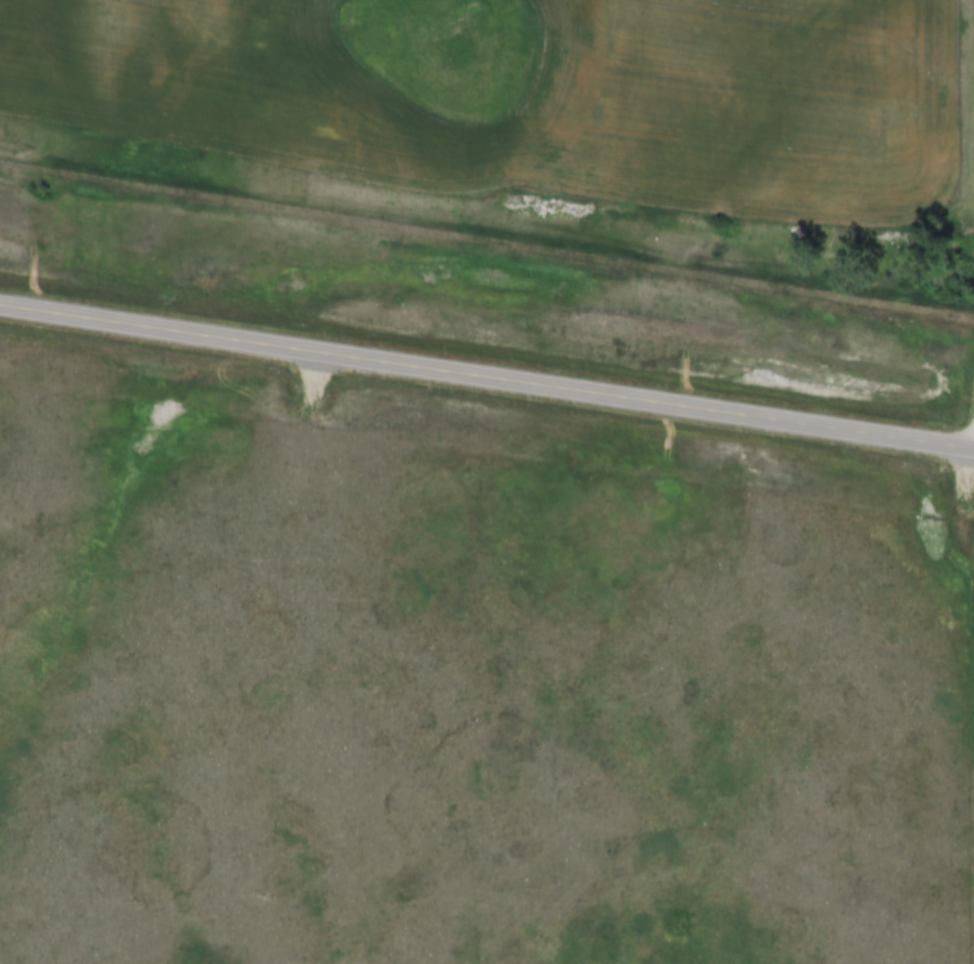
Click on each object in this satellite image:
road: (486, 238)
road: (487, 372)

